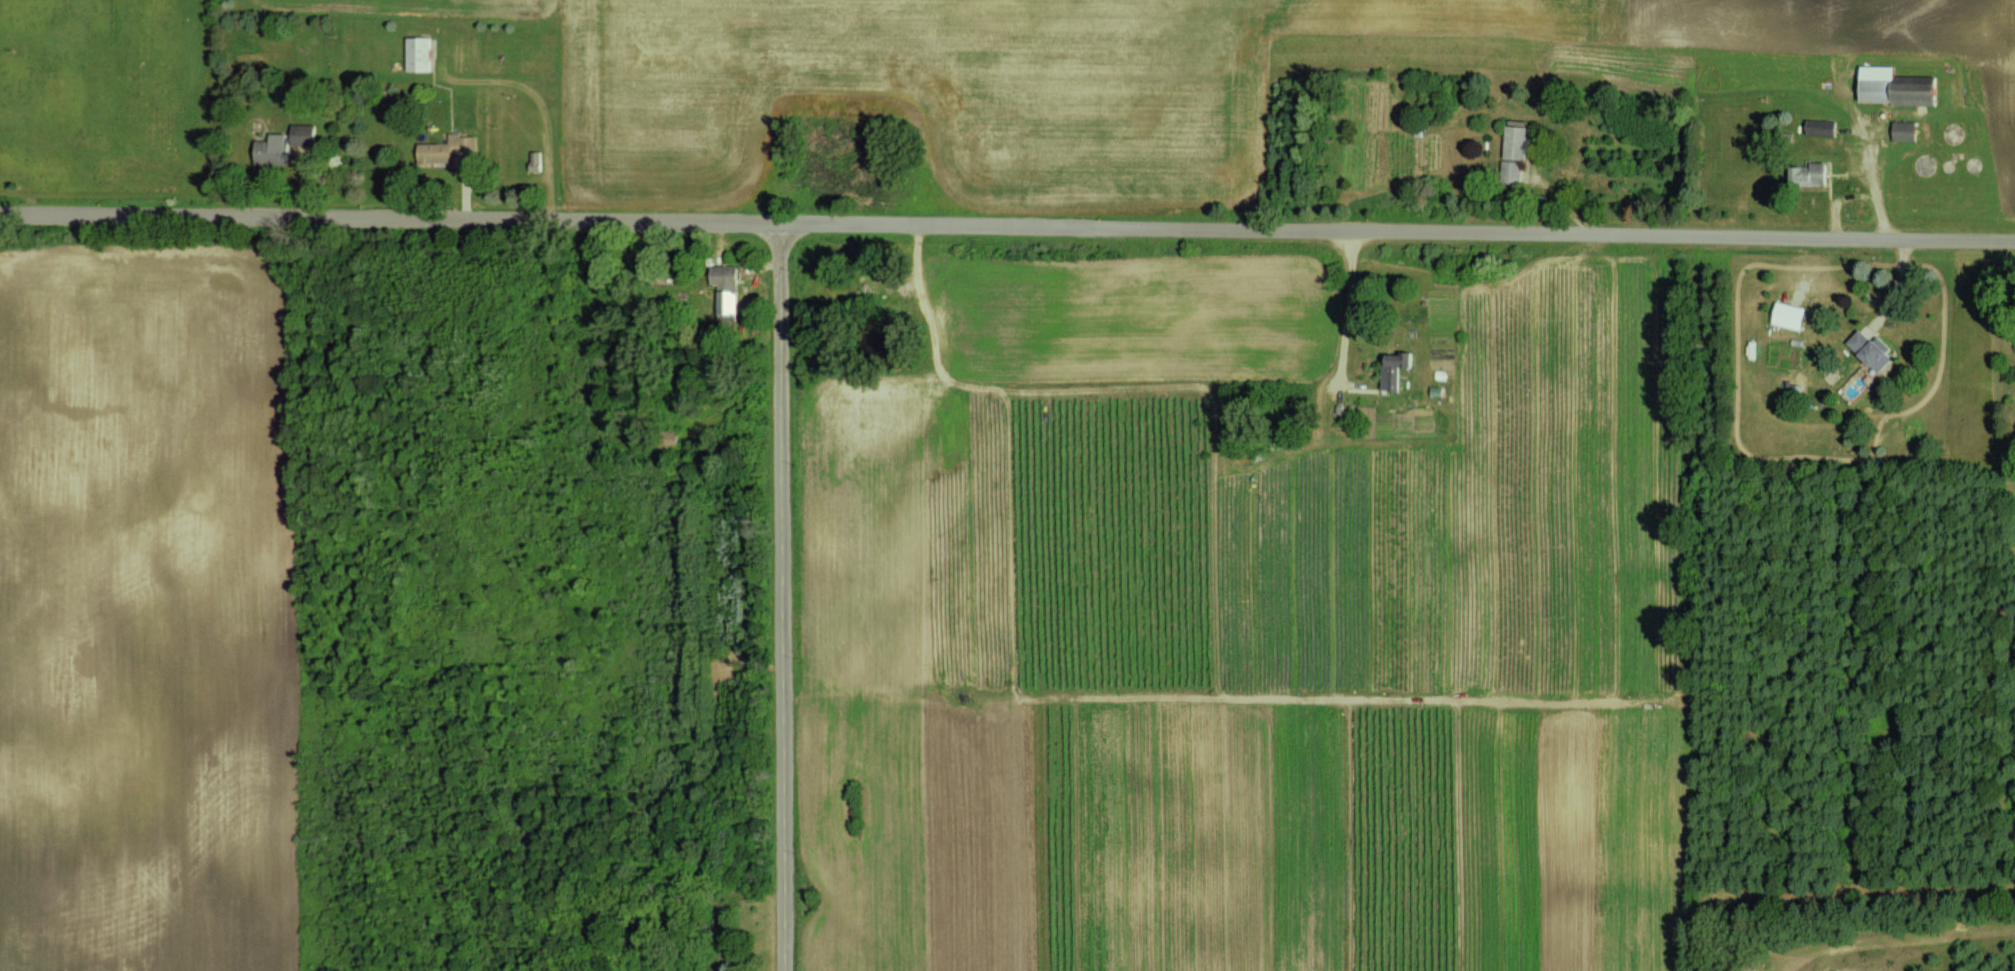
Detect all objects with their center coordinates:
building: (418, 53)
building: (1895, 88)
building: (1904, 130)
building: (302, 134)
building: (271, 149)
building: (446, 149)
building: (1513, 153)
road: (1007, 223)
building: (725, 287)
road: (1889, 287)
road: (1347, 304)
building: (1789, 315)
building: (1869, 350)
building: (1393, 371)
road: (781, 595)

